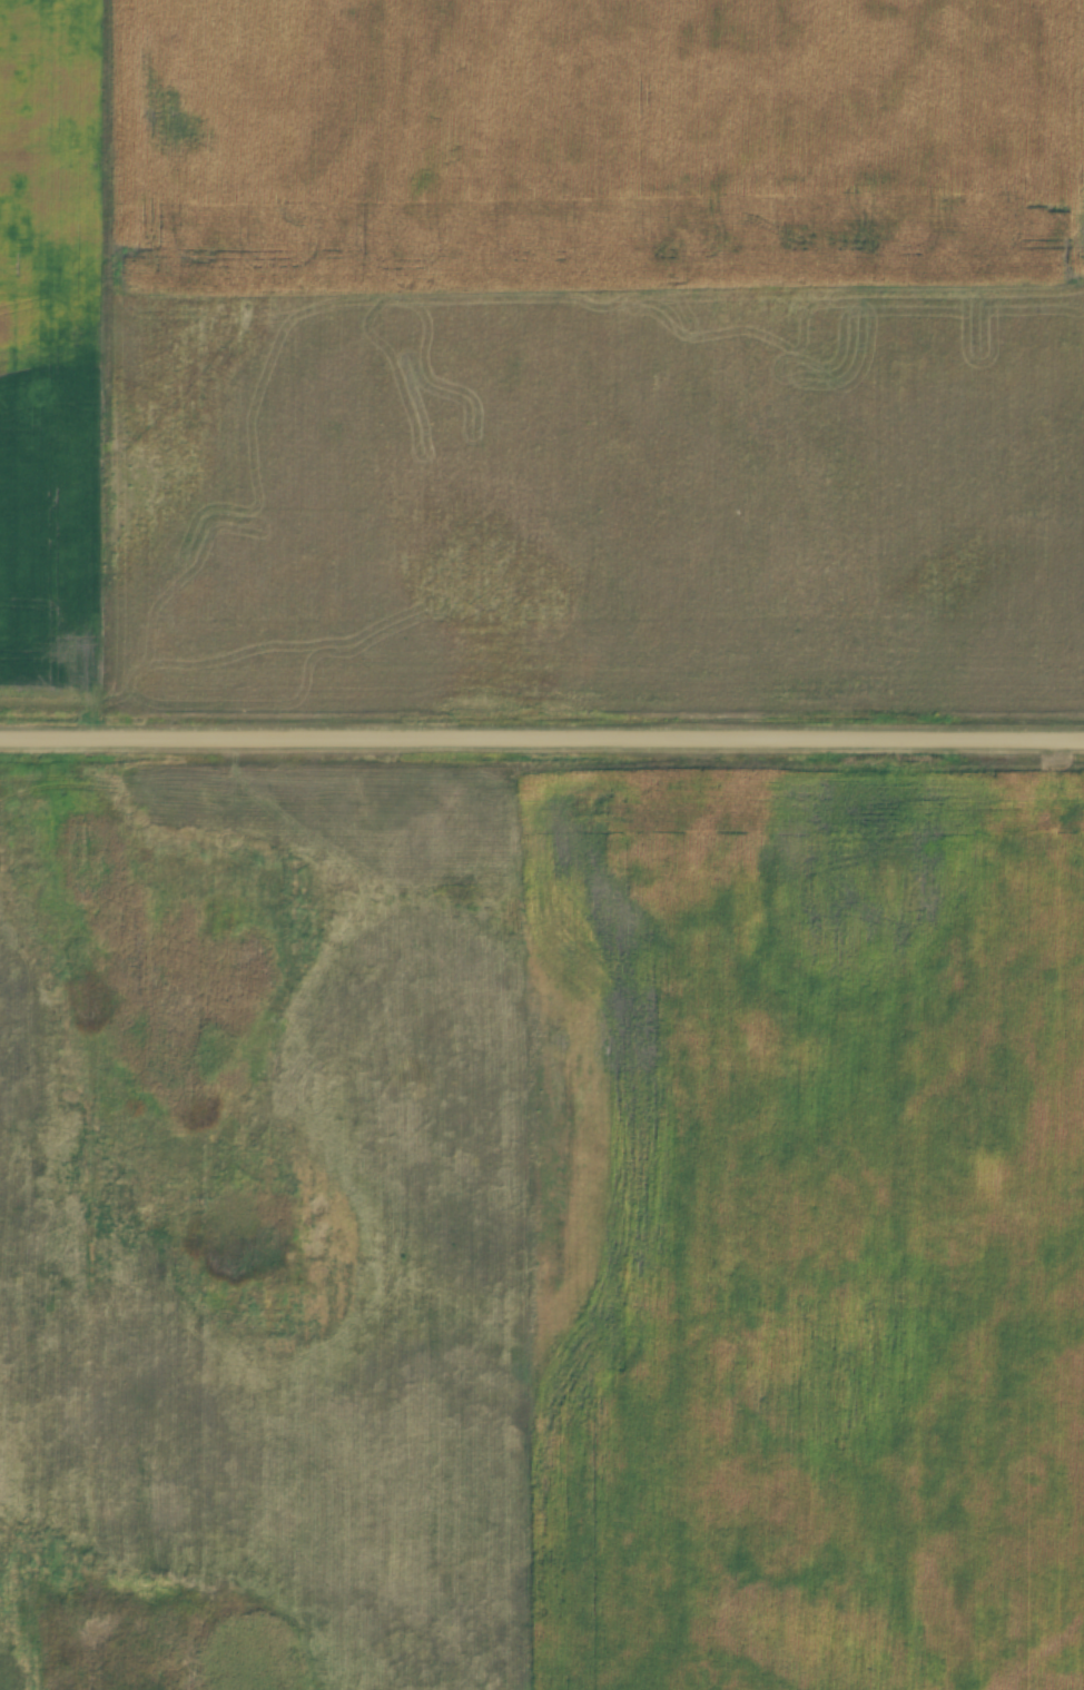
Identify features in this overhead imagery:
road: (542, 737)

